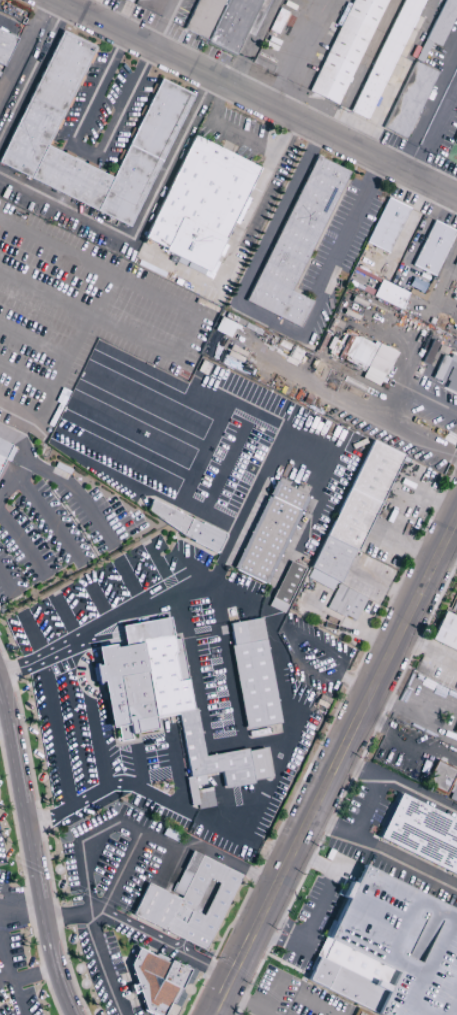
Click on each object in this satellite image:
building: (128, 1)
building: (204, 18)
building: (442, 22)
road: (160, 24)
building: (233, 25)
road: (131, 38)
building: (5, 46)
building: (346, 50)
building: (385, 58)
road: (28, 59)
building: (409, 101)
road: (427, 108)
building: (39, 121)
road: (433, 127)
road: (239, 137)
road: (334, 138)
building: (455, 142)
road: (84, 154)
road: (171, 159)
building: (201, 206)
road: (66, 207)
building: (387, 226)
building: (296, 243)
building: (433, 248)
building: (455, 265)
road: (44, 293)
building: (389, 295)
road: (163, 300)
parking lot: (80, 318)
road: (270, 323)
building: (223, 328)
road: (33, 343)
road: (72, 348)
road: (426, 352)
building: (432, 352)
building: (369, 359)
building: (447, 373)
road: (26, 379)
road: (157, 386)
road: (315, 386)
road: (430, 398)
road: (252, 403)
road: (18, 413)
road: (142, 417)
road: (402, 430)
parking lot: (177, 435)
road: (128, 447)
road: (208, 447)
building: (4, 452)
road: (231, 459)
road: (11, 477)
road: (159, 489)
road: (77, 495)
road: (310, 502)
building: (353, 515)
road: (46, 517)
building: (187, 528)
building: (268, 534)
road: (23, 547)
road: (451, 547)
road: (161, 569)
road: (7, 584)
road: (131, 584)
building: (285, 588)
road: (185, 591)
parking lot: (92, 596)
road: (98, 600)
building: (345, 603)
road: (63, 619)
road: (182, 629)
building: (249, 631)
building: (446, 632)
road: (151, 634)
road: (100, 641)
road: (428, 648)
building: (183, 661)
road: (229, 661)
building: (164, 664)
building: (122, 676)
building: (258, 684)
road: (287, 698)
building: (143, 702)
road: (367, 704)
road: (53, 705)
road: (203, 707)
road: (5, 725)
parking lot: (79, 731)
building: (455, 731)
road: (409, 739)
road: (97, 745)
building: (213, 756)
building: (257, 764)
road: (175, 765)
road: (139, 767)
building: (441, 778)
road: (399, 785)
road: (143, 789)
building: (453, 795)
building: (421, 835)
road: (32, 848)
road: (385, 850)
road: (227, 861)
road: (81, 874)
road: (117, 879)
road: (327, 892)
road: (270, 901)
road: (20, 902)
building: (201, 903)
building: (153, 907)
road: (278, 922)
road: (260, 923)
road: (139, 931)
road: (288, 937)
road: (270, 938)
building: (389, 951)
road: (3, 971)
road: (235, 972)
road: (31, 976)
road: (9, 981)
building: (155, 982)
building: (359, 1012)
road: (216, 1014)

